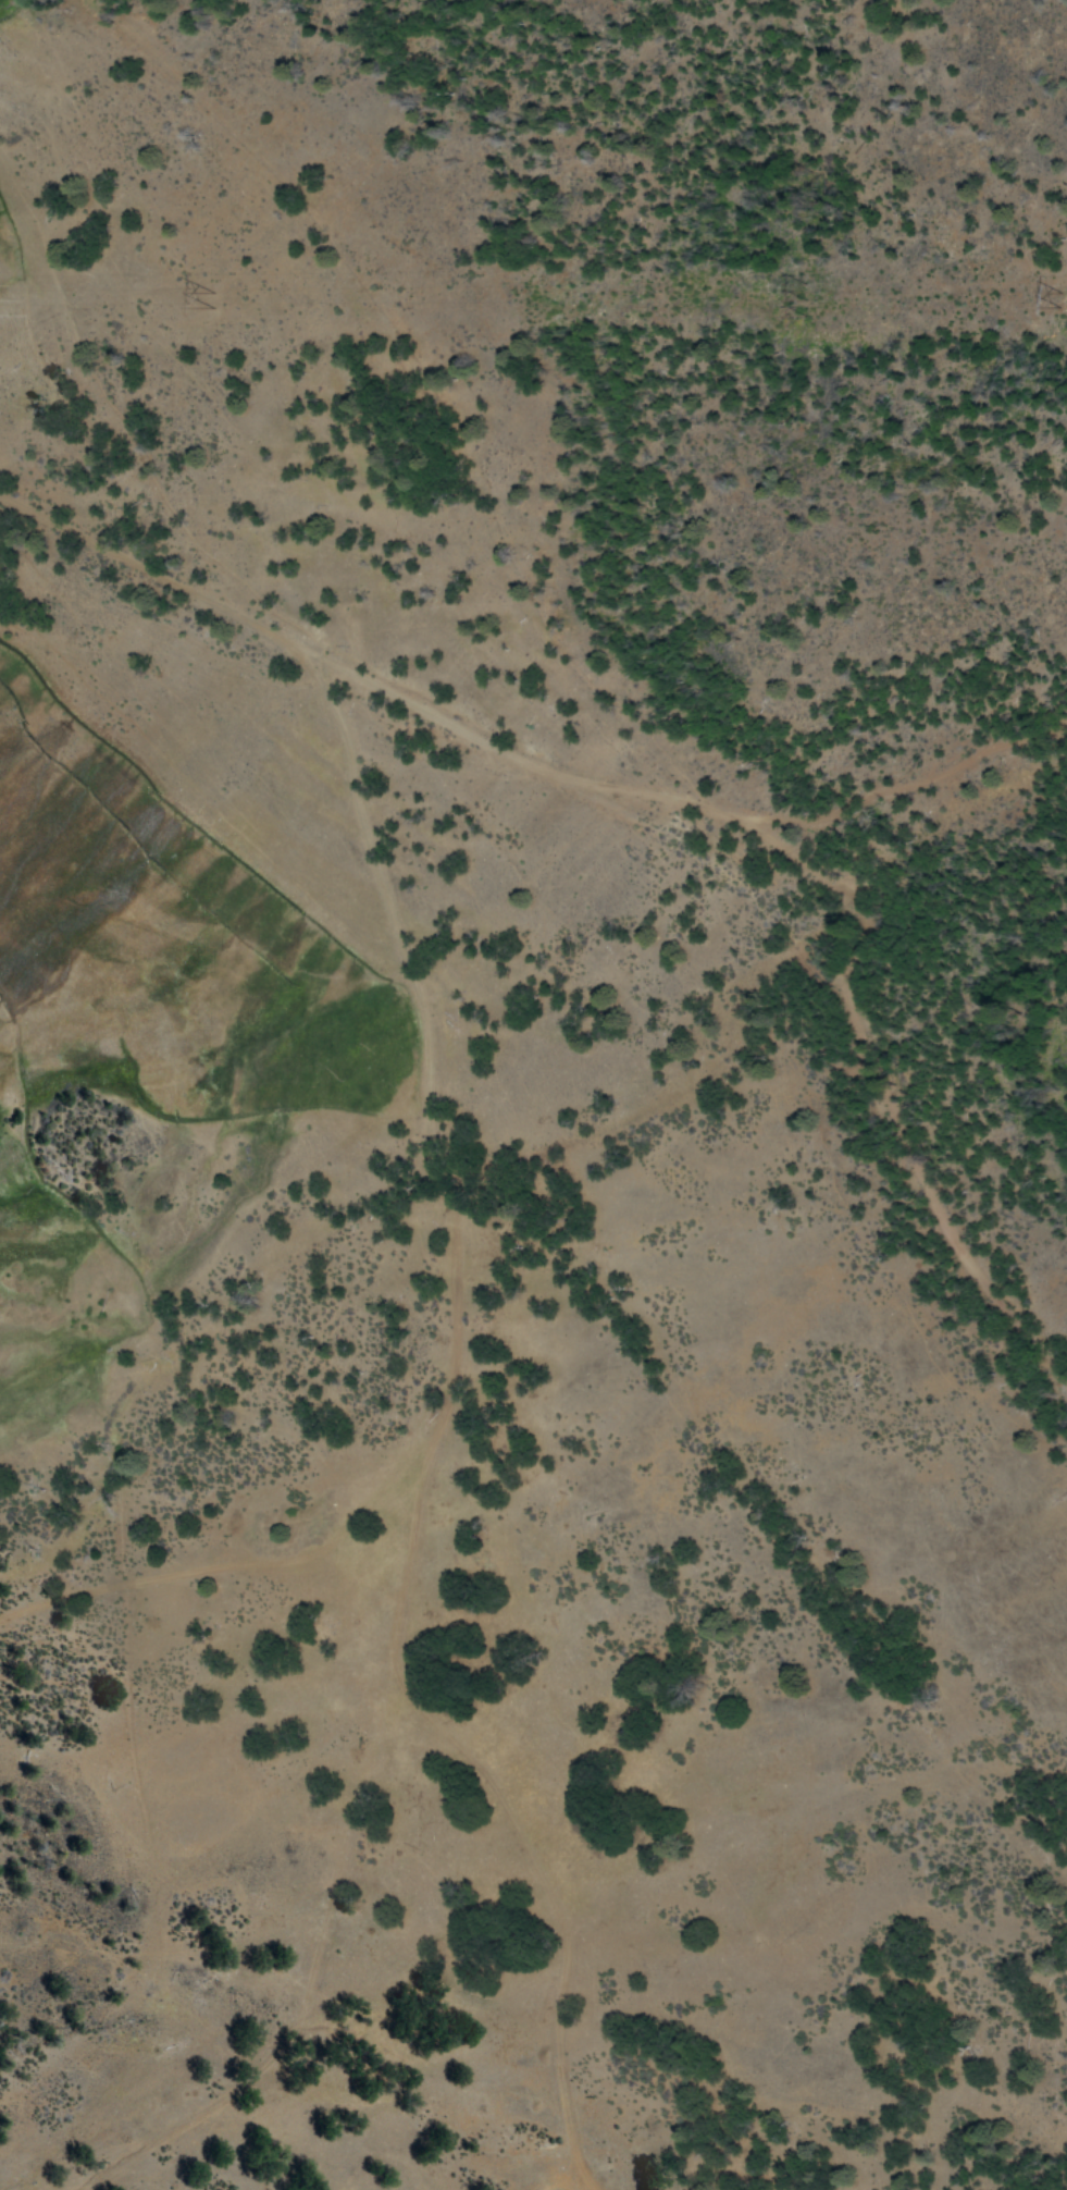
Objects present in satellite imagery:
power tower: (216, 295)
power tower: (804, 296)
power tower: (1060, 297)

